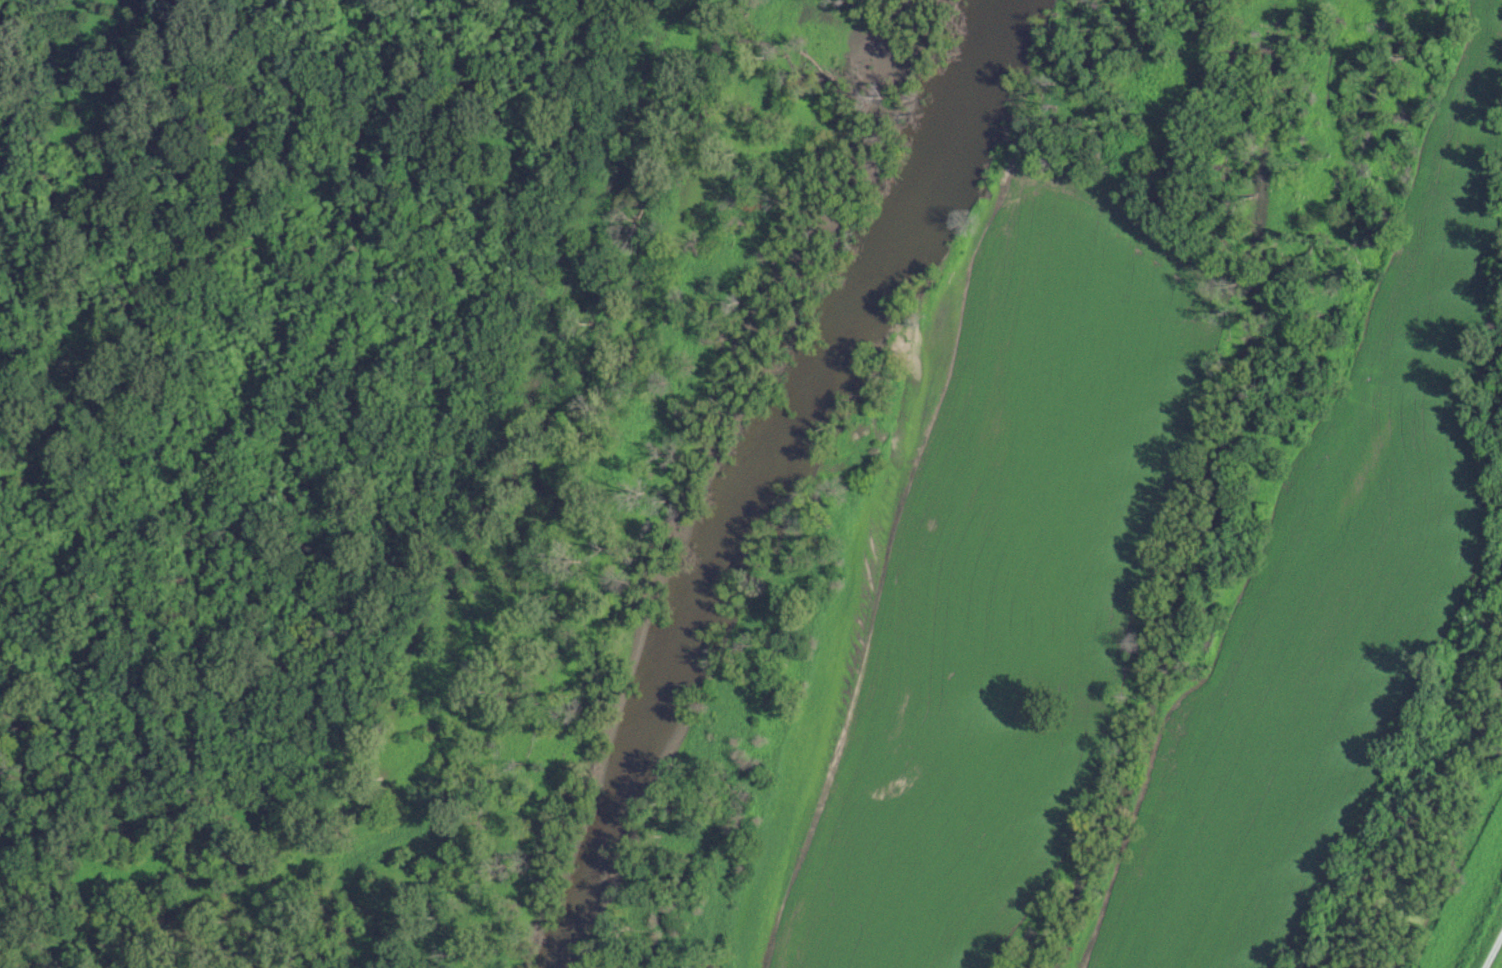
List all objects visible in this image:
road: (1493, 951)

